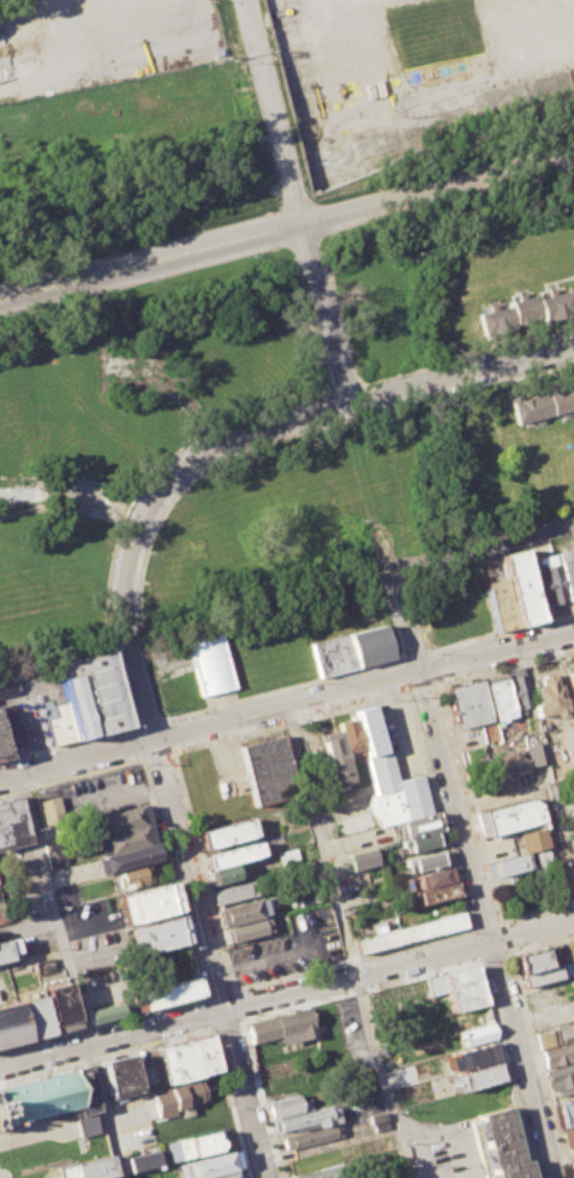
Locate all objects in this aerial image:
road: (294, 199)
road: (286, 222)
building: (525, 311)
road: (340, 402)
building: (542, 403)
road: (72, 495)
road: (109, 567)
building: (567, 575)
building: (551, 585)
building: (520, 586)
building: (500, 603)
building: (367, 645)
building: (330, 654)
building: (209, 664)
building: (569, 684)
road: (287, 687)
building: (515, 689)
building: (91, 693)
building: (545, 698)
building: (496, 699)
building: (467, 704)
road: (287, 705)
parking lot: (31, 707)
road: (287, 723)
building: (59, 724)
building: (366, 730)
building: (486, 732)
building: (573, 737)
building: (348, 739)
road: (137, 743)
building: (2, 748)
building: (533, 752)
building: (333, 759)
building: (497, 765)
building: (265, 770)
building: (390, 791)
building: (102, 793)
building: (50, 809)
road: (437, 812)
building: (507, 815)
building: (119, 819)
building: (12, 824)
building: (414, 824)
building: (226, 832)
building: (122, 838)
building: (531, 838)
road: (318, 839)
road: (478, 839)
building: (420, 842)
road: (183, 848)
building: (53, 850)
building: (232, 854)
building: (130, 856)
building: (288, 856)
building: (361, 857)
building: (425, 860)
building: (508, 863)
road: (203, 872)
building: (225, 874)
building: (133, 877)
building: (432, 877)
road: (172, 878)
road: (472, 885)
building: (234, 891)
building: (436, 892)
building: (306, 898)
building: (145, 903)
road: (52, 908)
building: (243, 911)
road: (497, 922)
road: (500, 923)
road: (483, 925)
building: (246, 928)
building: (407, 931)
building: (156, 933)
road: (503, 937)
road: (472, 944)
parking lot: (288, 947)
building: (570, 949)
building: (2, 951)
road: (349, 958)
building: (531, 959)
building: (539, 975)
building: (435, 985)
building: (462, 988)
road: (287, 991)
road: (217, 993)
building: (163, 994)
building: (58, 1004)
road: (238, 1005)
road: (286, 1007)
building: (103, 1011)
road: (207, 1011)
building: (32, 1012)
road: (103, 1023)
building: (11, 1024)
building: (282, 1027)
building: (570, 1028)
building: (477, 1036)
building: (545, 1036)
building: (556, 1054)
building: (474, 1057)
building: (187, 1058)
road: (537, 1063)
road: (506, 1066)
building: (479, 1075)
building: (119, 1076)
road: (379, 1076)
building: (561, 1080)
building: (83, 1089)
road: (262, 1096)
building: (36, 1098)
building: (177, 1098)
road: (229, 1100)
building: (285, 1106)
road: (103, 1111)
building: (564, 1111)
building: (65, 1113)
building: (304, 1120)
building: (378, 1122)
building: (86, 1124)
building: (496, 1124)
road: (35, 1131)
building: (312, 1136)
building: (569, 1137)
building: (192, 1146)
building: (504, 1150)
parking lot: (447, 1152)
building: (572, 1155)
building: (143, 1160)
building: (211, 1164)
building: (86, 1168)
building: (515, 1170)
building: (322, 1172)
building: (227, 1174)
building: (110, 1176)

